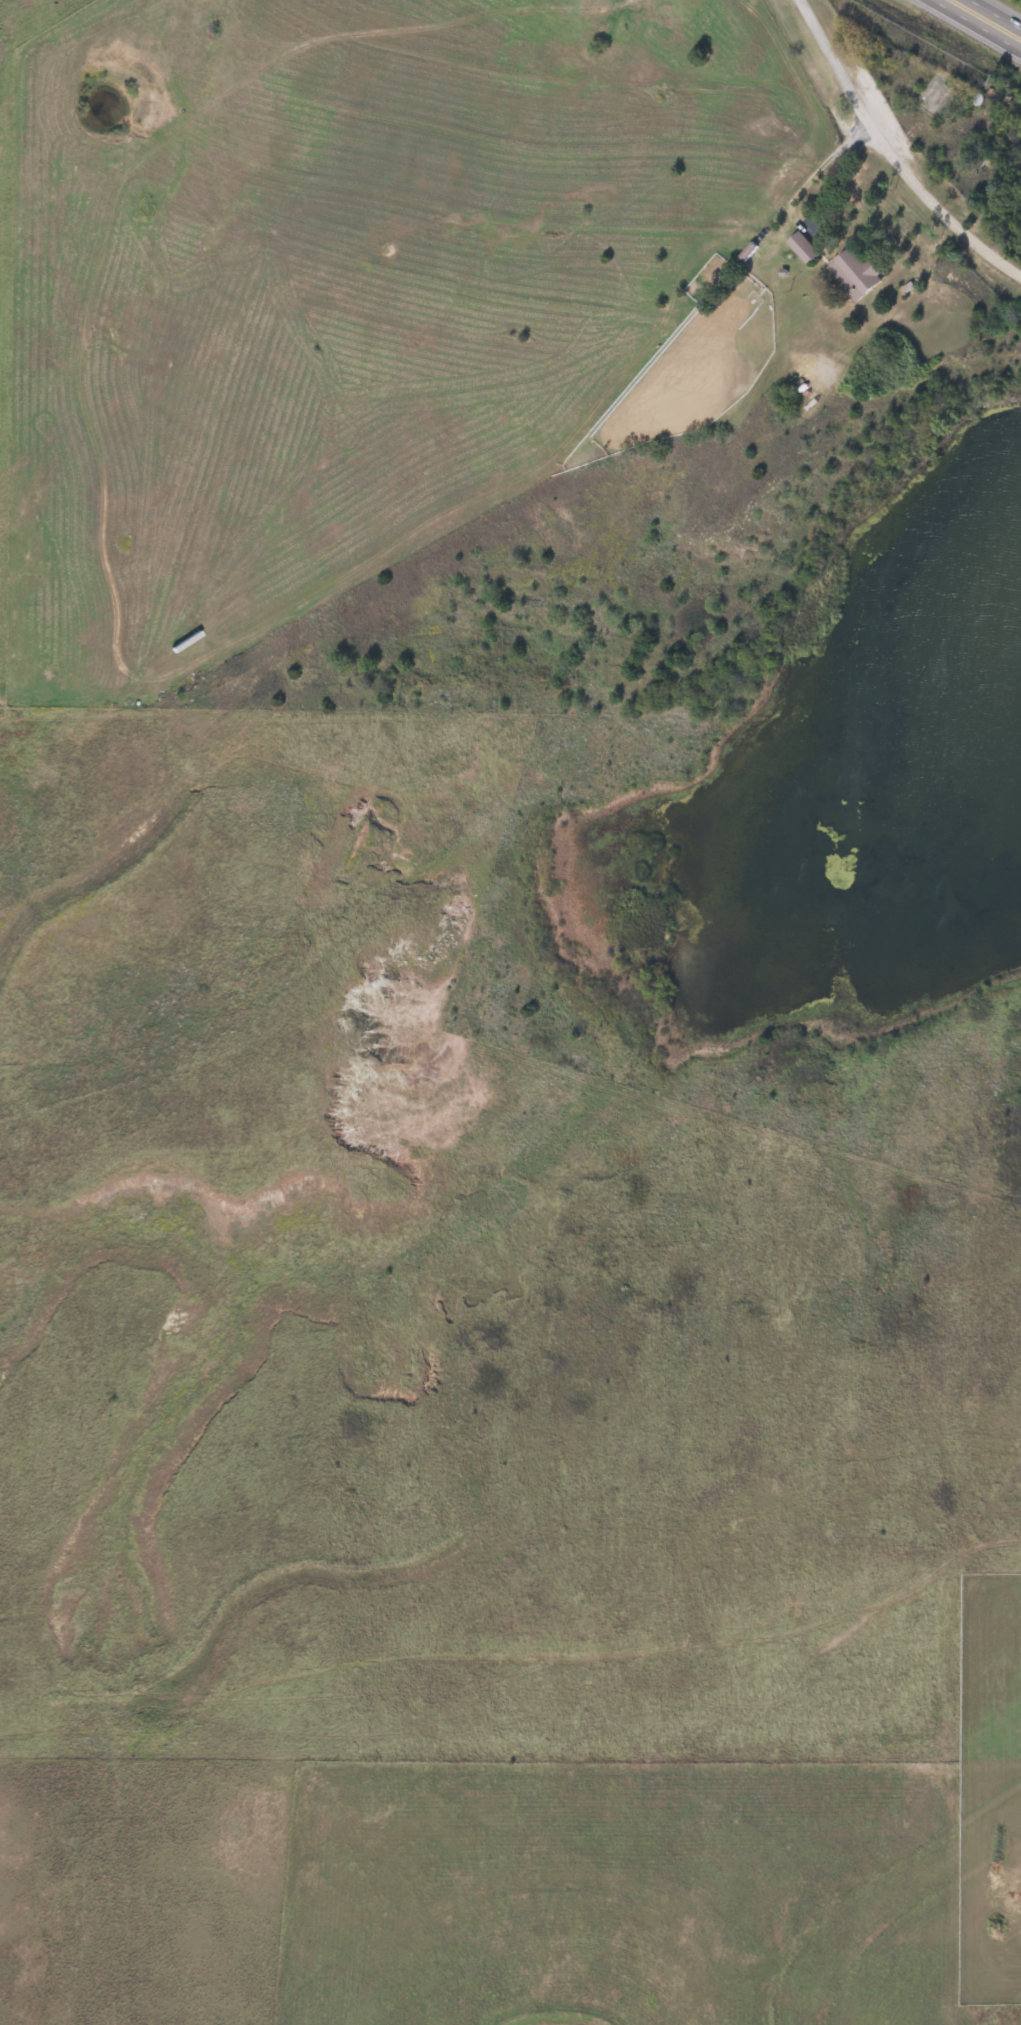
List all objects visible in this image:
road: (982, 21)
road: (887, 156)
building: (802, 247)
building: (854, 270)
park: (987, 1788)

